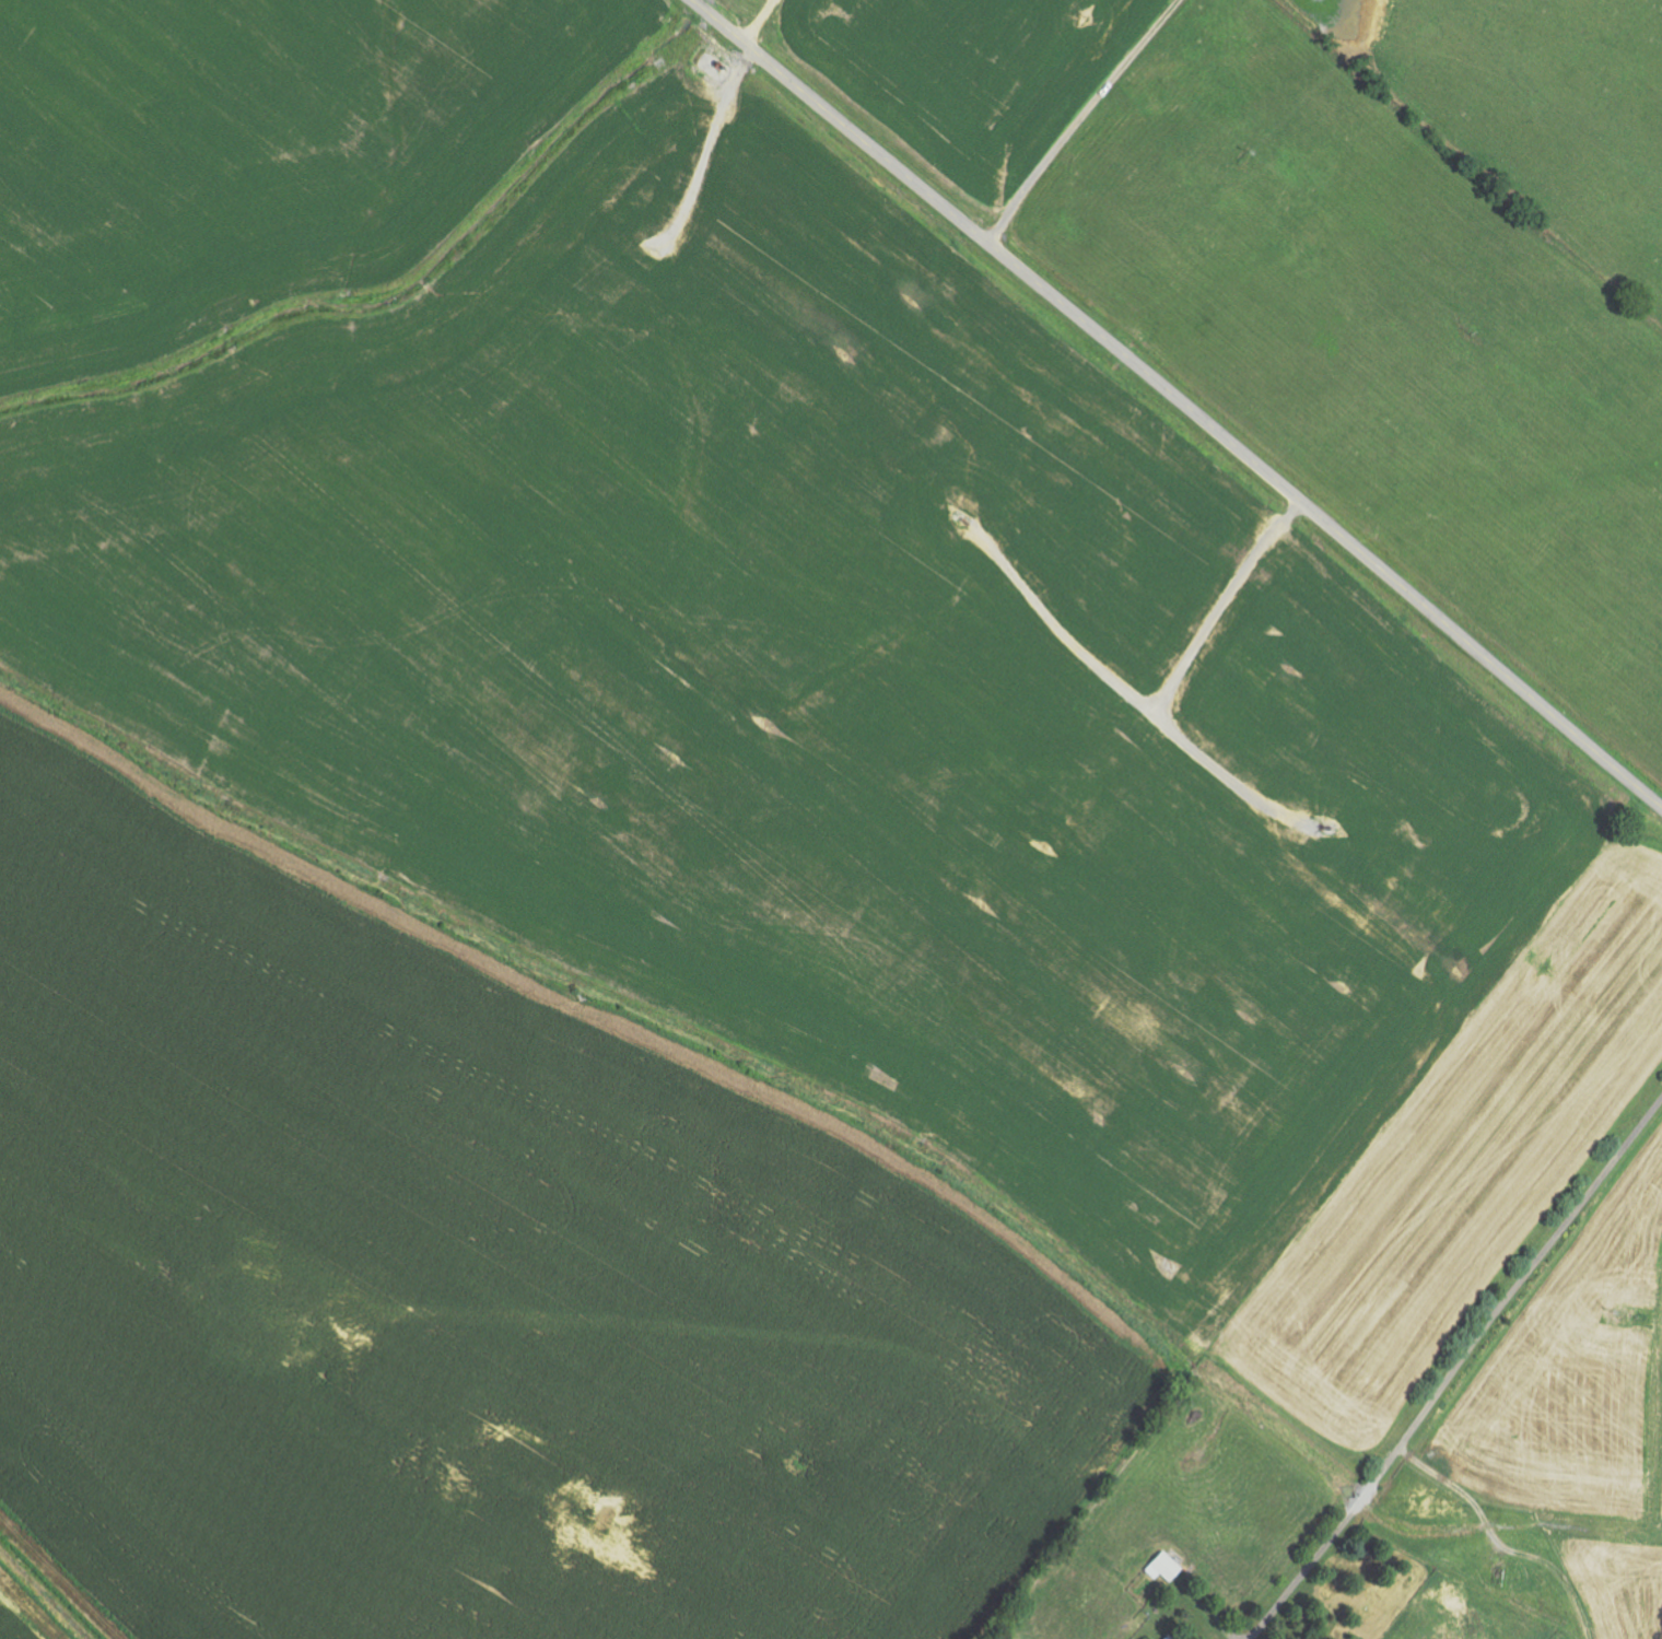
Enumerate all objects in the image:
road: (1180, 400)
road: (1490, 1347)
building: (1164, 1568)
building: (1169, 1637)

